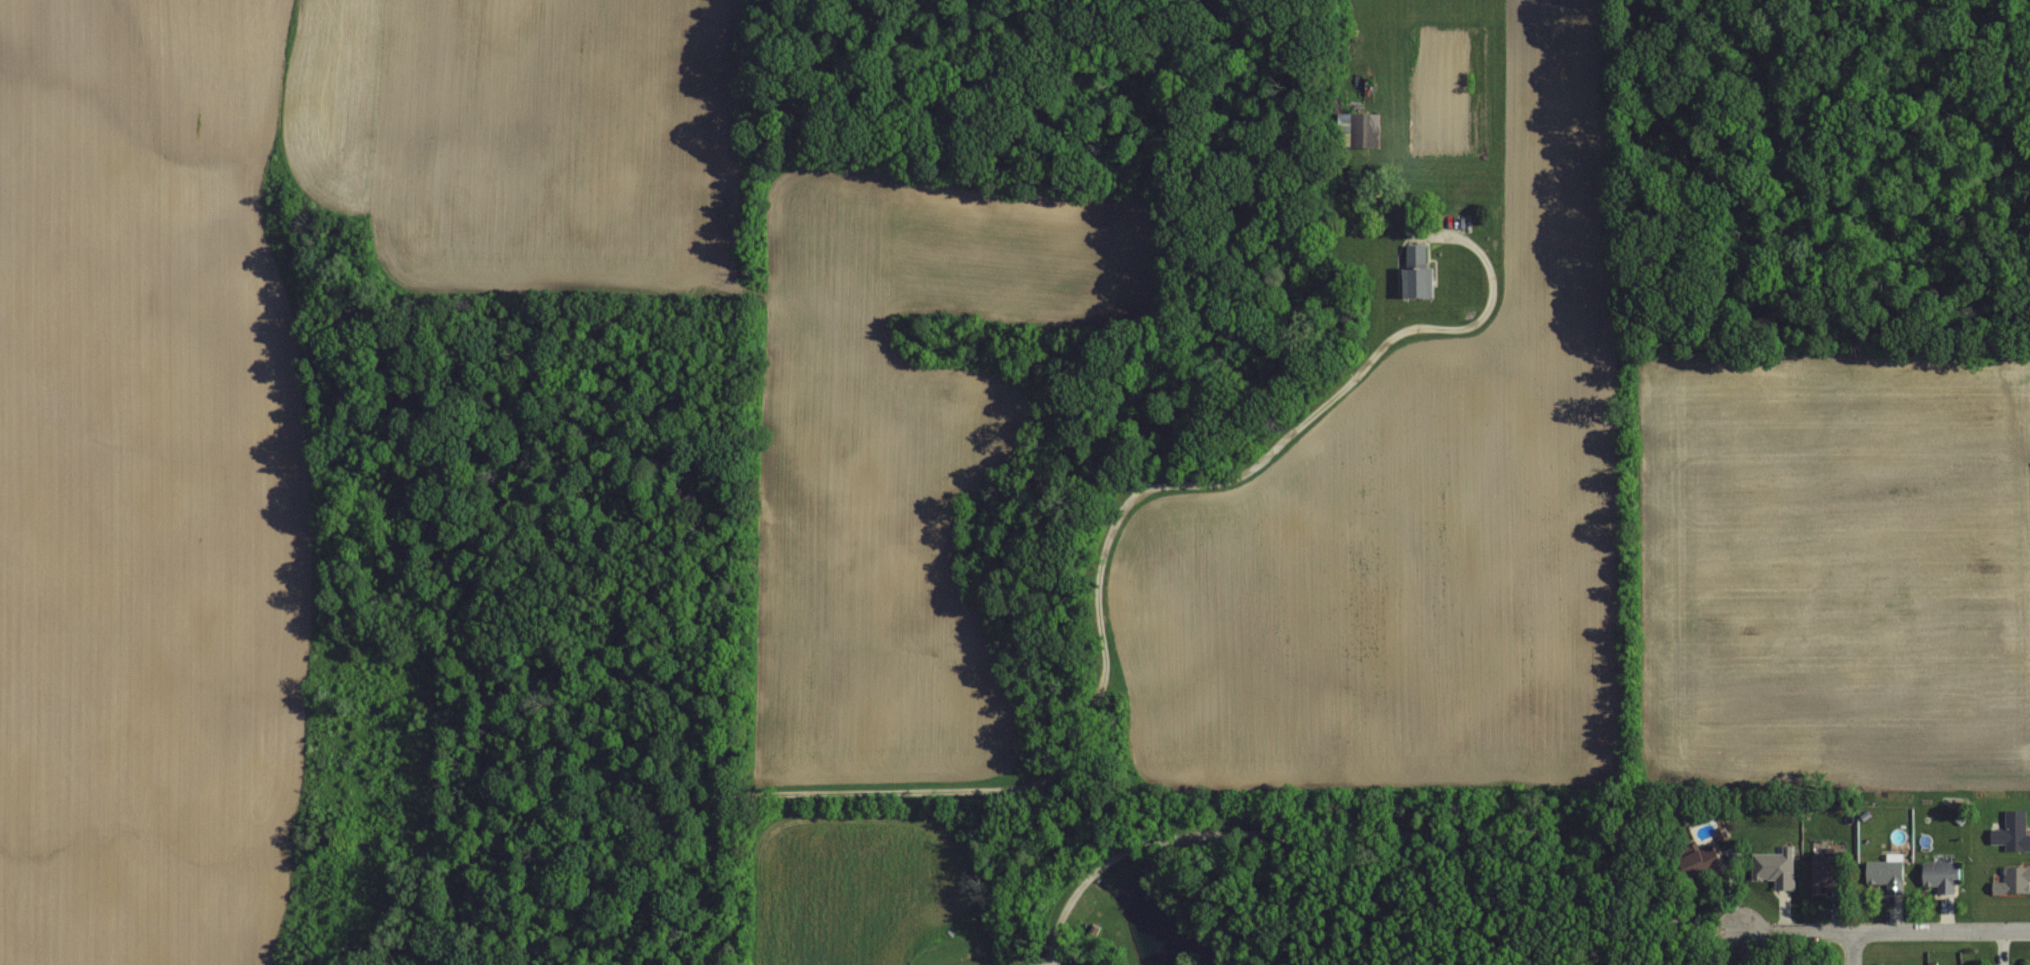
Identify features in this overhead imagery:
building: (1414, 284)
building: (2010, 830)
building: (1883, 874)
building: (1937, 877)
building: (2011, 879)
road: (1940, 932)
road: (1796, 934)
road: (1851, 949)

